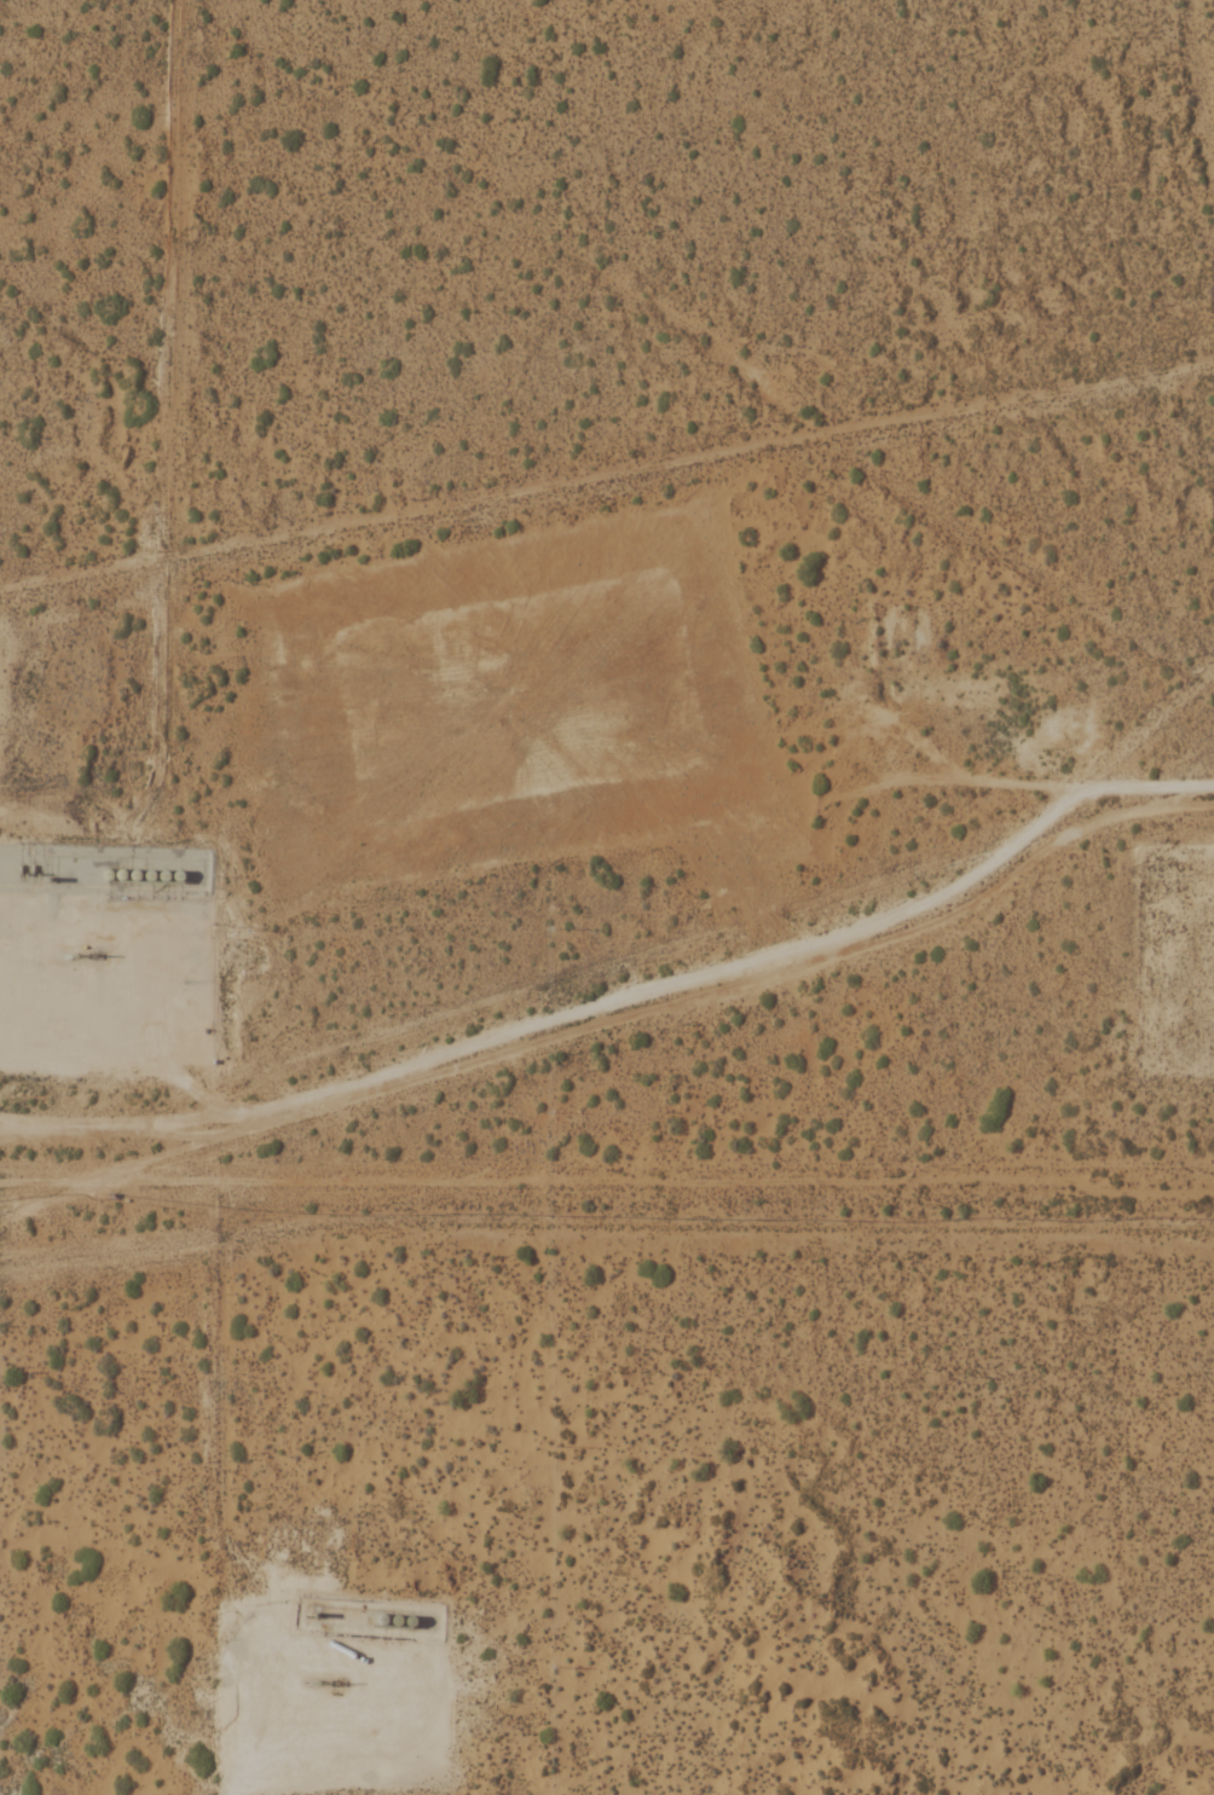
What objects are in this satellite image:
road: (725, 748)
road: (1045, 780)
road: (48, 911)
road: (1210, 986)
road: (557, 1032)
road: (296, 1692)

